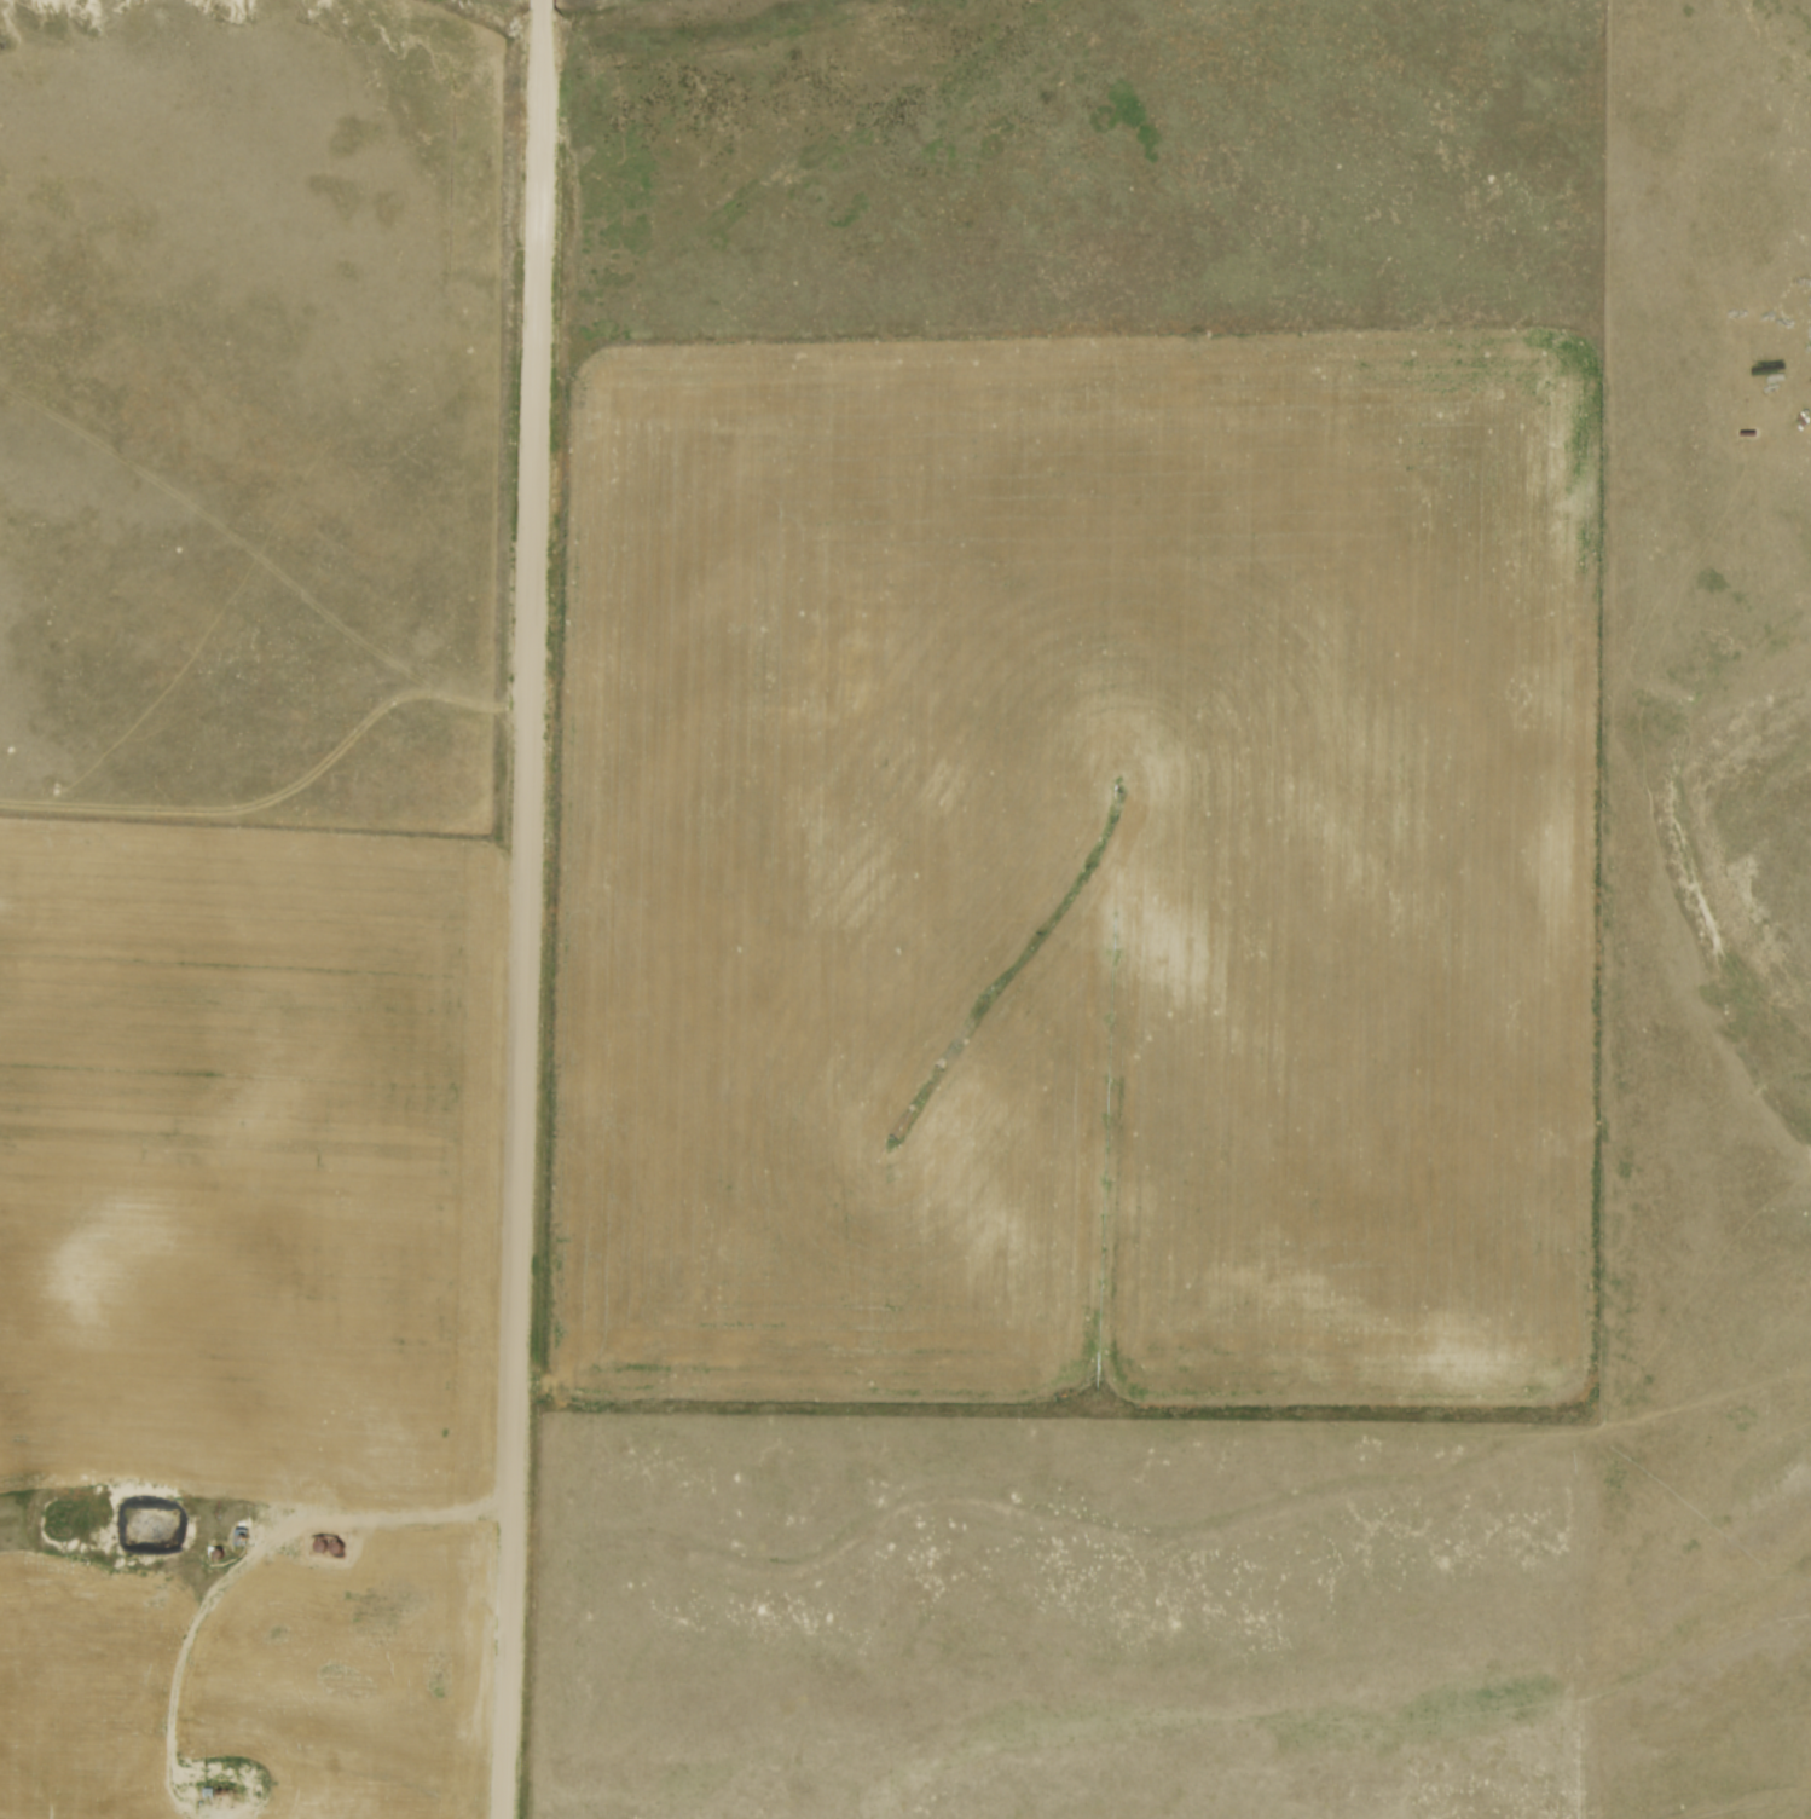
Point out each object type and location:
crop: (1084, 873)
road: (530, 909)
building: (239, 1538)
road: (266, 1548)
building: (328, 1551)
storage tank: (328, 1551)
building: (346, 1552)
storage tank: (346, 1552)
road: (203, 1775)
petroleum well: (221, 1795)

